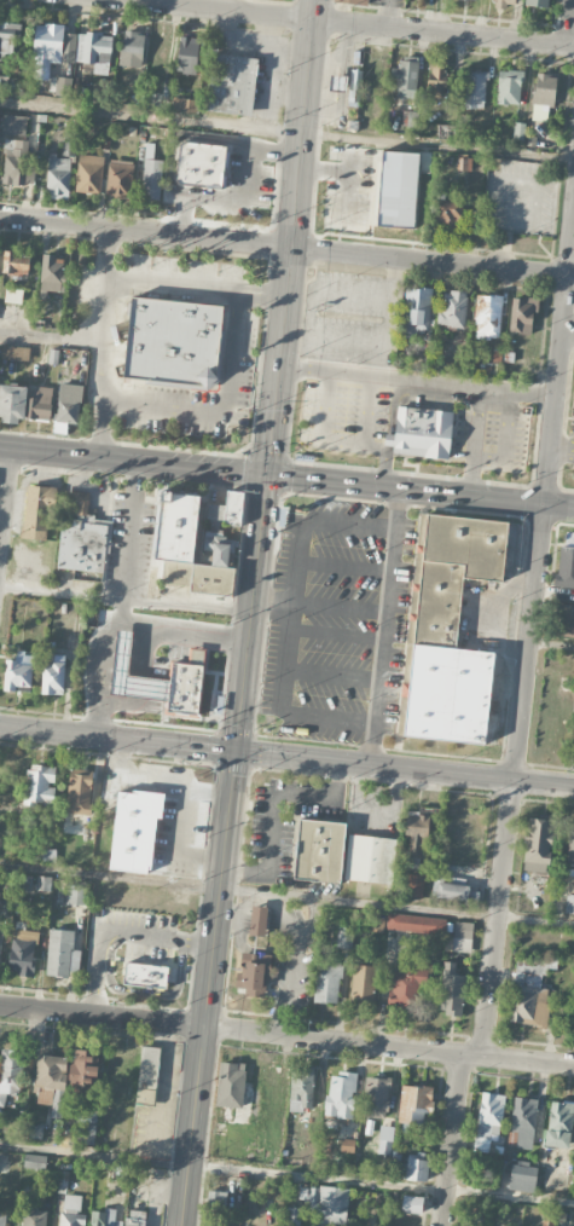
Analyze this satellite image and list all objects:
building: (355, 1)
building: (503, 2)
building: (538, 2)
road: (387, 15)
road: (348, 24)
road: (573, 35)
building: (8, 41)
building: (133, 44)
building: (47, 47)
building: (94, 47)
building: (189, 54)
building: (157, 56)
building: (405, 75)
building: (437, 80)
building: (1, 82)
building: (337, 82)
building: (232, 83)
building: (509, 86)
building: (354, 87)
building: (476, 88)
building: (543, 96)
building: (185, 104)
building: (15, 125)
road: (286, 131)
building: (69, 146)
building: (341, 156)
building: (15, 162)
building: (201, 163)
building: (59, 173)
building: (91, 174)
building: (120, 178)
building: (151, 178)
building: (398, 189)
building: (332, 192)
building: (446, 212)
road: (292, 237)
road: (286, 247)
building: (16, 264)
building: (53, 274)
road: (173, 284)
road: (262, 294)
building: (13, 295)
building: (452, 308)
building: (418, 311)
road: (105, 313)
building: (522, 314)
building: (487, 316)
road: (568, 326)
road: (52, 336)
building: (174, 343)
building: (15, 352)
road: (559, 358)
building: (497, 363)
road: (418, 382)
building: (24, 403)
building: (69, 404)
road: (222, 411)
road: (100, 428)
building: (421, 432)
road: (563, 453)
road: (134, 462)
traffic signals: (269, 476)
road: (408, 490)
road: (5, 491)
road: (561, 507)
building: (227, 509)
road: (398, 510)
building: (36, 511)
building: (82, 536)
building: (191, 547)
road: (392, 549)
building: (564, 566)
road: (126, 602)
road: (123, 611)
road: (489, 614)
road: (123, 619)
building: (564, 620)
building: (447, 629)
road: (553, 644)
building: (182, 650)
building: (18, 673)
building: (53, 676)
road: (280, 700)
traffic signals: (236, 750)
road: (286, 754)
road: (517, 781)
building: (40, 785)
building: (79, 791)
road: (276, 808)
building: (135, 831)
building: (416, 834)
building: (538, 844)
building: (570, 848)
road: (224, 850)
building: (342, 854)
building: (0, 880)
building: (44, 883)
building: (414, 884)
building: (453, 889)
building: (76, 892)
road: (286, 896)
building: (569, 903)
building: (257, 920)
building: (416, 923)
building: (377, 924)
building: (460, 936)
building: (344, 938)
building: (0, 939)
building: (23, 953)
building: (62, 953)
building: (145, 975)
building: (253, 975)
building: (327, 982)
building: (361, 983)
building: (405, 989)
building: (451, 990)
building: (529, 994)
road: (286, 1036)
building: (82, 1069)
building: (10, 1072)
building: (147, 1075)
building: (50, 1081)
building: (232, 1089)
building: (301, 1092)
building: (340, 1094)
building: (376, 1095)
building: (414, 1104)
building: (489, 1120)
building: (523, 1122)
building: (558, 1123)
building: (85, 1128)
building: (220, 1128)
building: (35, 1132)
building: (384, 1138)
road: (453, 1139)
building: (347, 1145)
building: (34, 1161)
building: (417, 1166)
building: (120, 1170)
road: (286, 1174)
building: (522, 1175)
building: (216, 1198)
building: (412, 1203)
building: (331, 1204)
building: (71, 1209)
building: (292, 1215)
building: (34, 1218)
building: (135, 1218)
building: (2, 1219)
building: (105, 1219)
building: (475, 1225)

